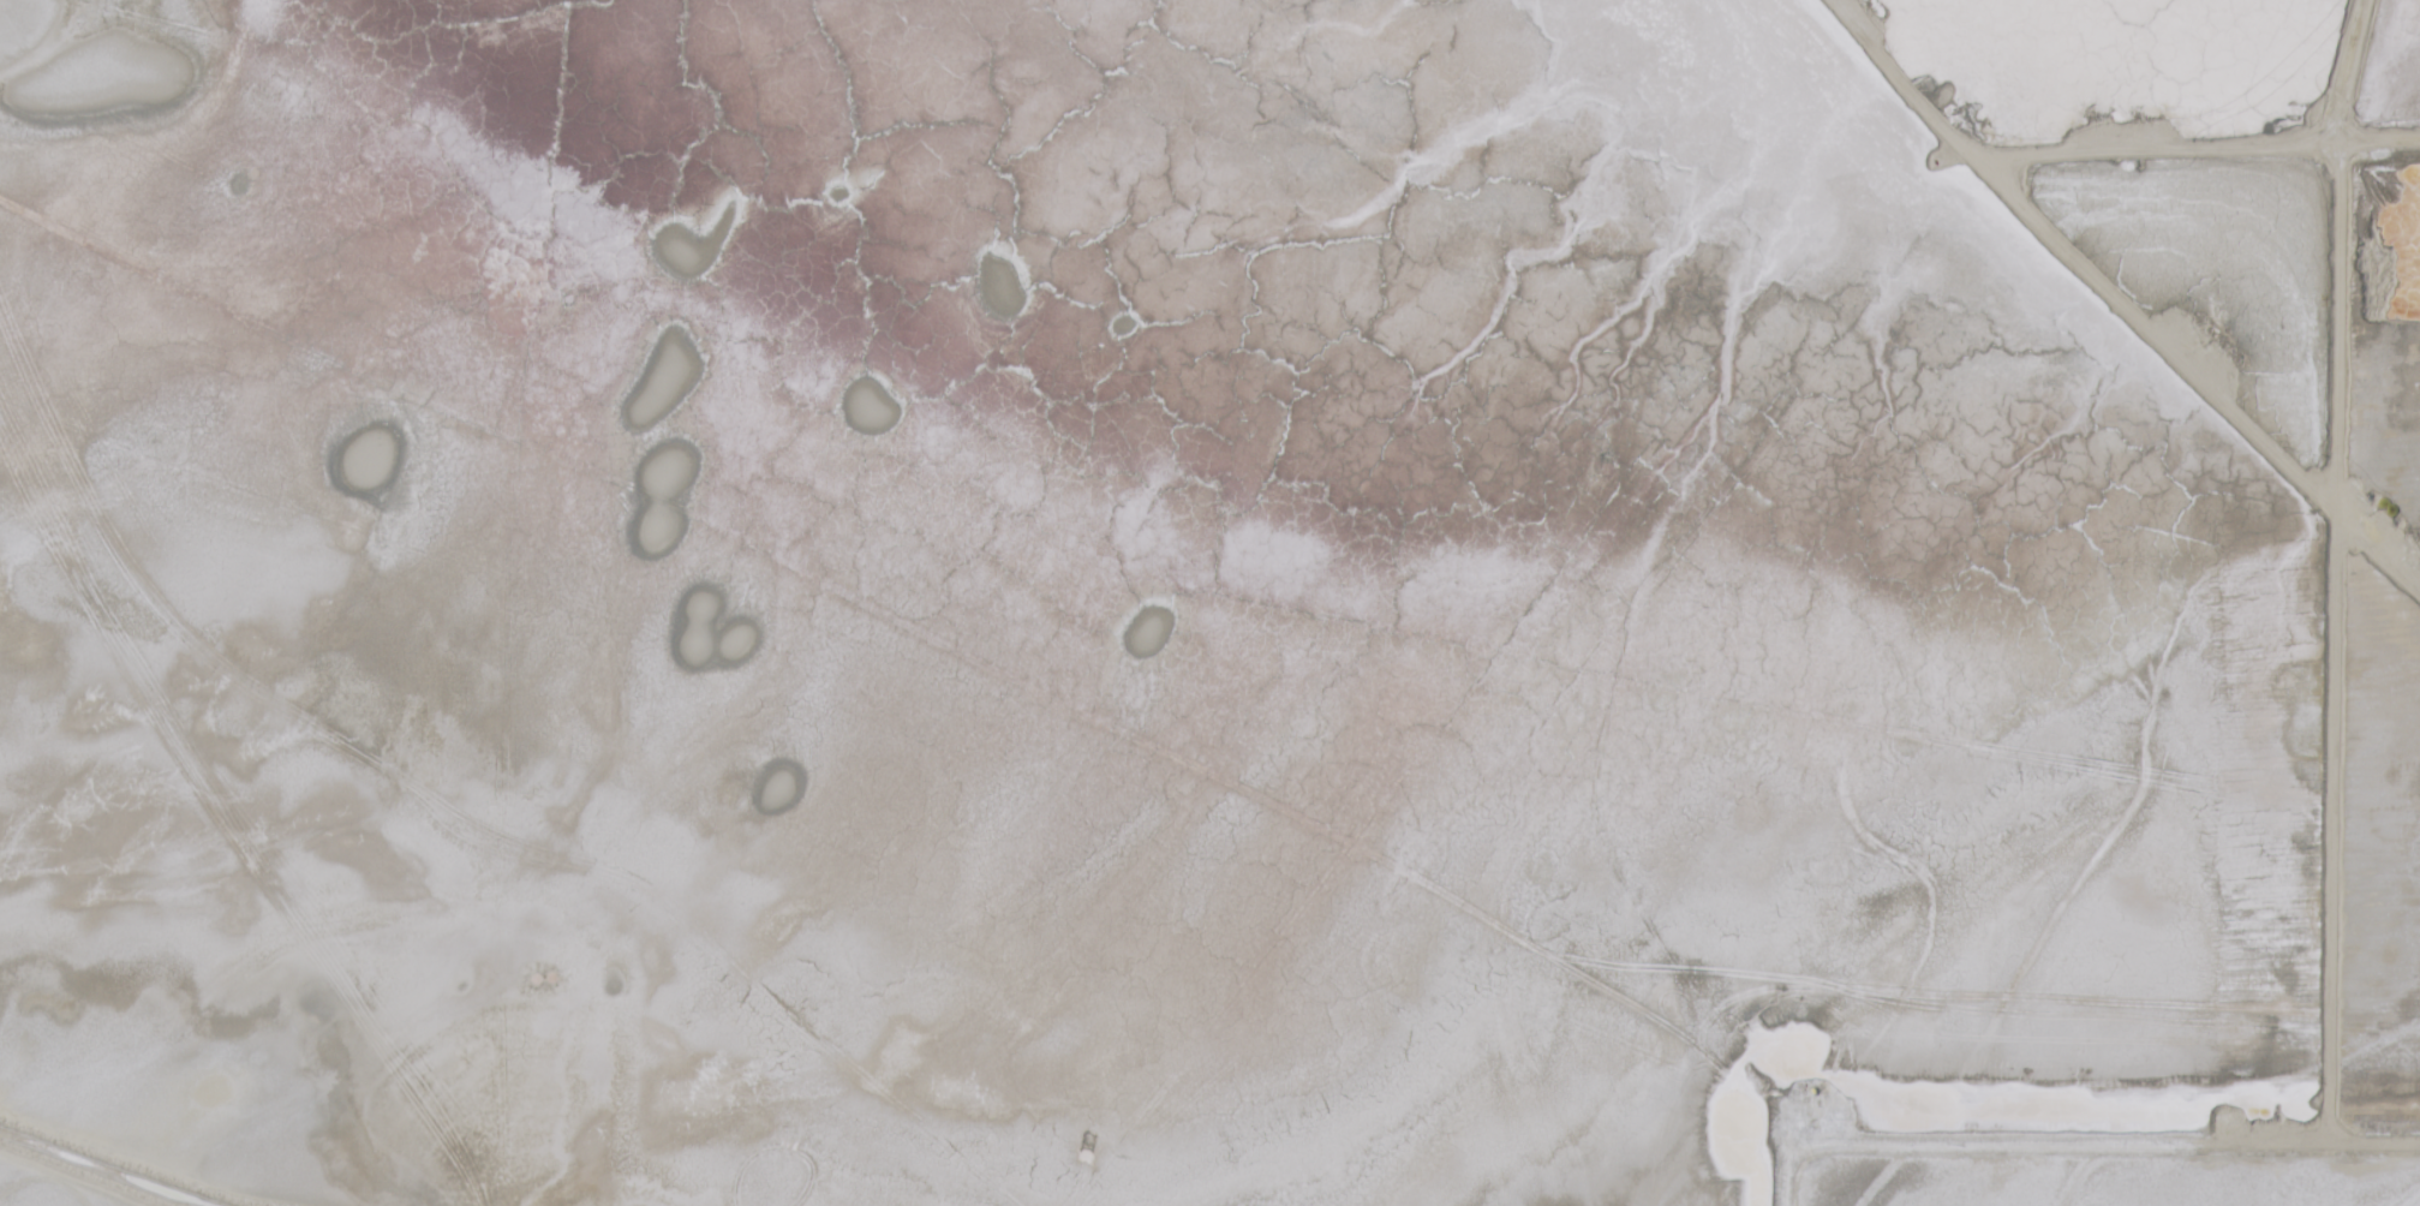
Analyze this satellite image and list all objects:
quarry: (1130, 165)

